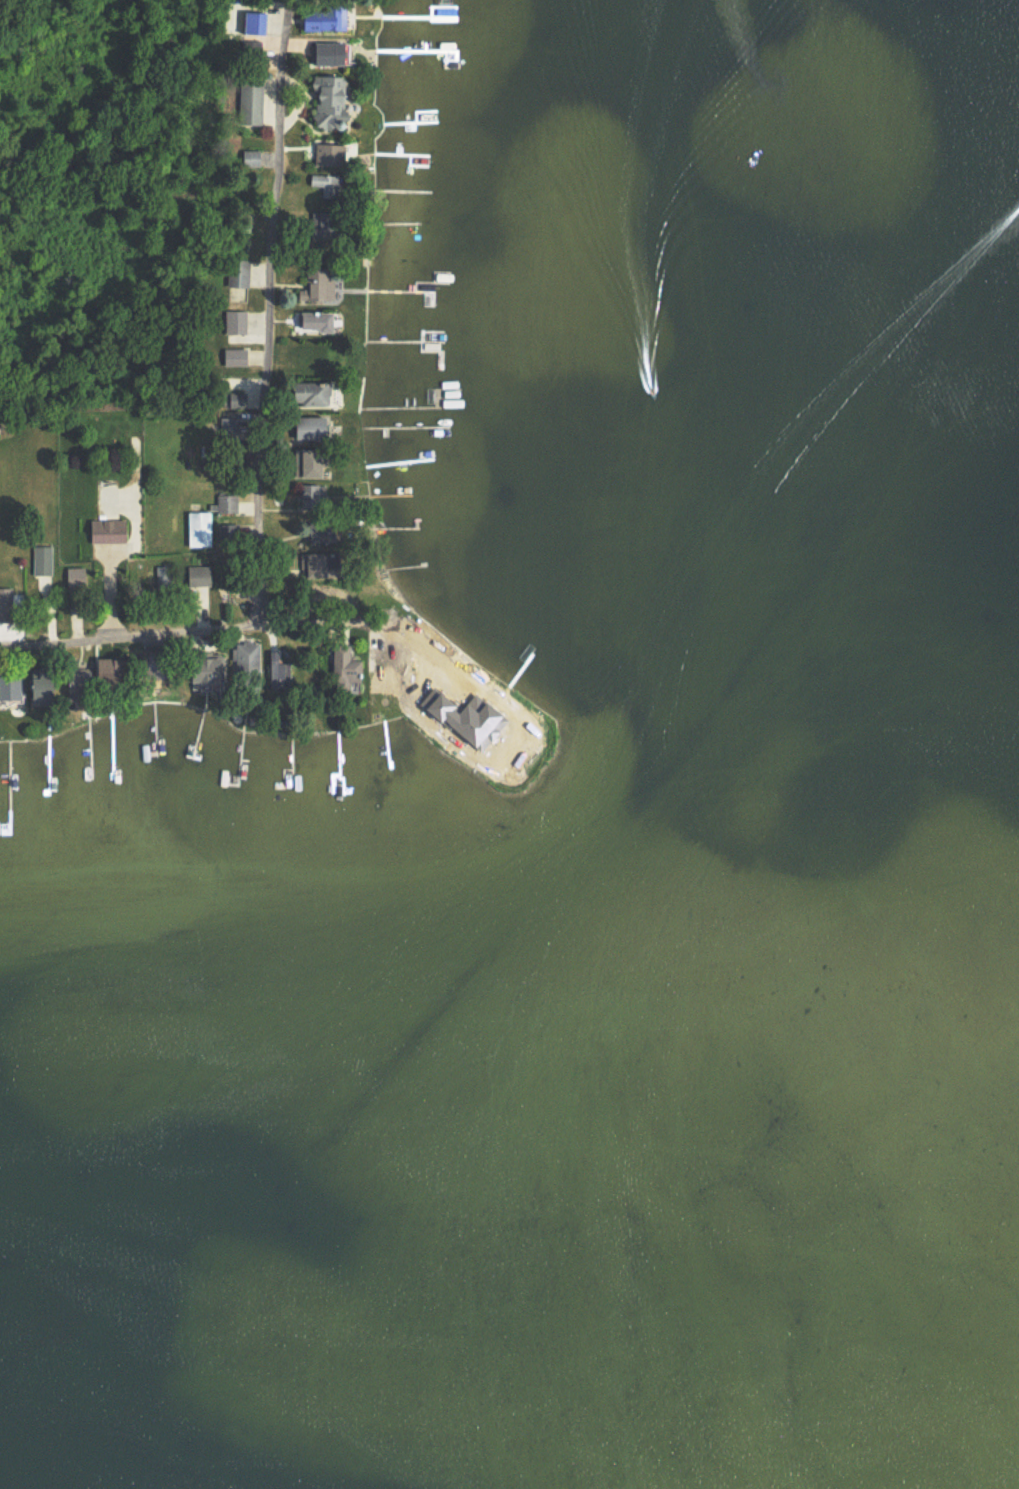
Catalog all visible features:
building: (322, 17)
building: (251, 21)
building: (324, 52)
building: (325, 99)
building: (249, 101)
building: (325, 153)
building: (324, 184)
building: (236, 272)
building: (316, 287)
building: (313, 319)
building: (235, 320)
building: (233, 355)
building: (310, 392)
building: (307, 426)
road: (252, 442)
building: (305, 462)
building: (312, 492)
building: (197, 527)
building: (228, 529)
building: (106, 530)
building: (319, 532)
building: (311, 564)
building: (197, 575)
building: (74, 576)
building: (5, 597)
building: (416, 654)
building: (248, 660)
building: (342, 664)
building: (199, 668)
building: (380, 668)
building: (273, 669)
building: (8, 684)
building: (71, 685)
building: (37, 689)

